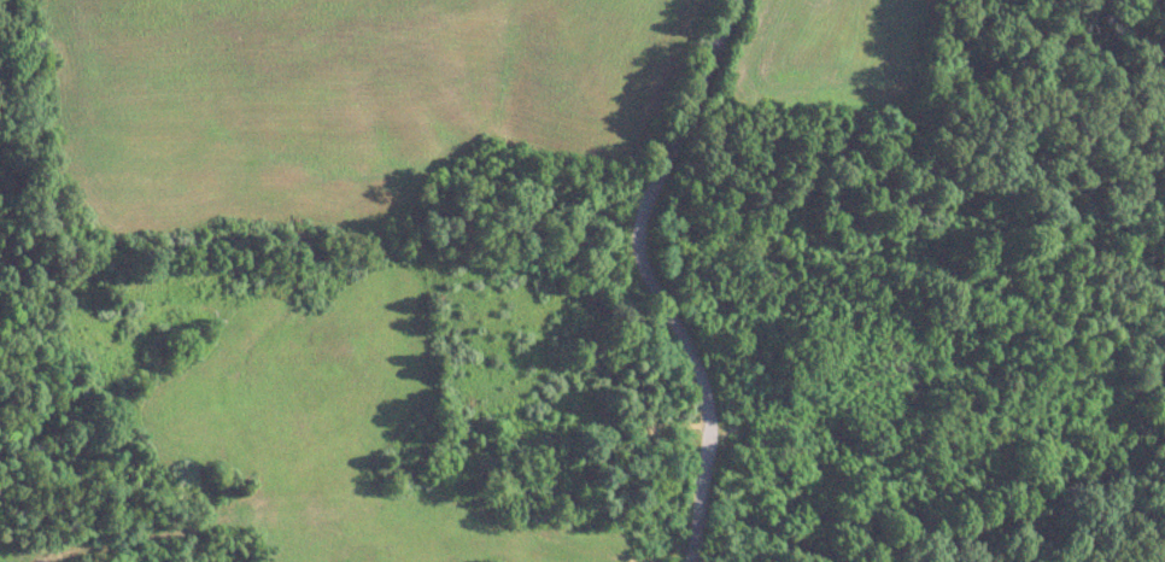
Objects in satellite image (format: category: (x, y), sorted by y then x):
road: (655, 279)

